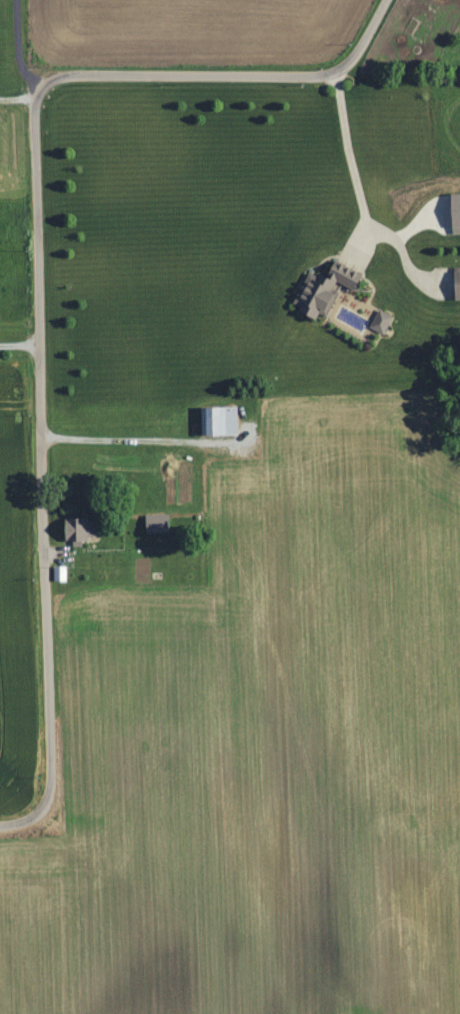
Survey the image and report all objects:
road: (18, 48)
road: (18, 100)
road: (359, 197)
building: (457, 213)
road: (38, 278)
building: (458, 285)
building: (327, 293)
building: (383, 322)
road: (20, 346)
building: (223, 422)
road: (136, 441)
building: (159, 525)
building: (82, 530)
building: (61, 575)

